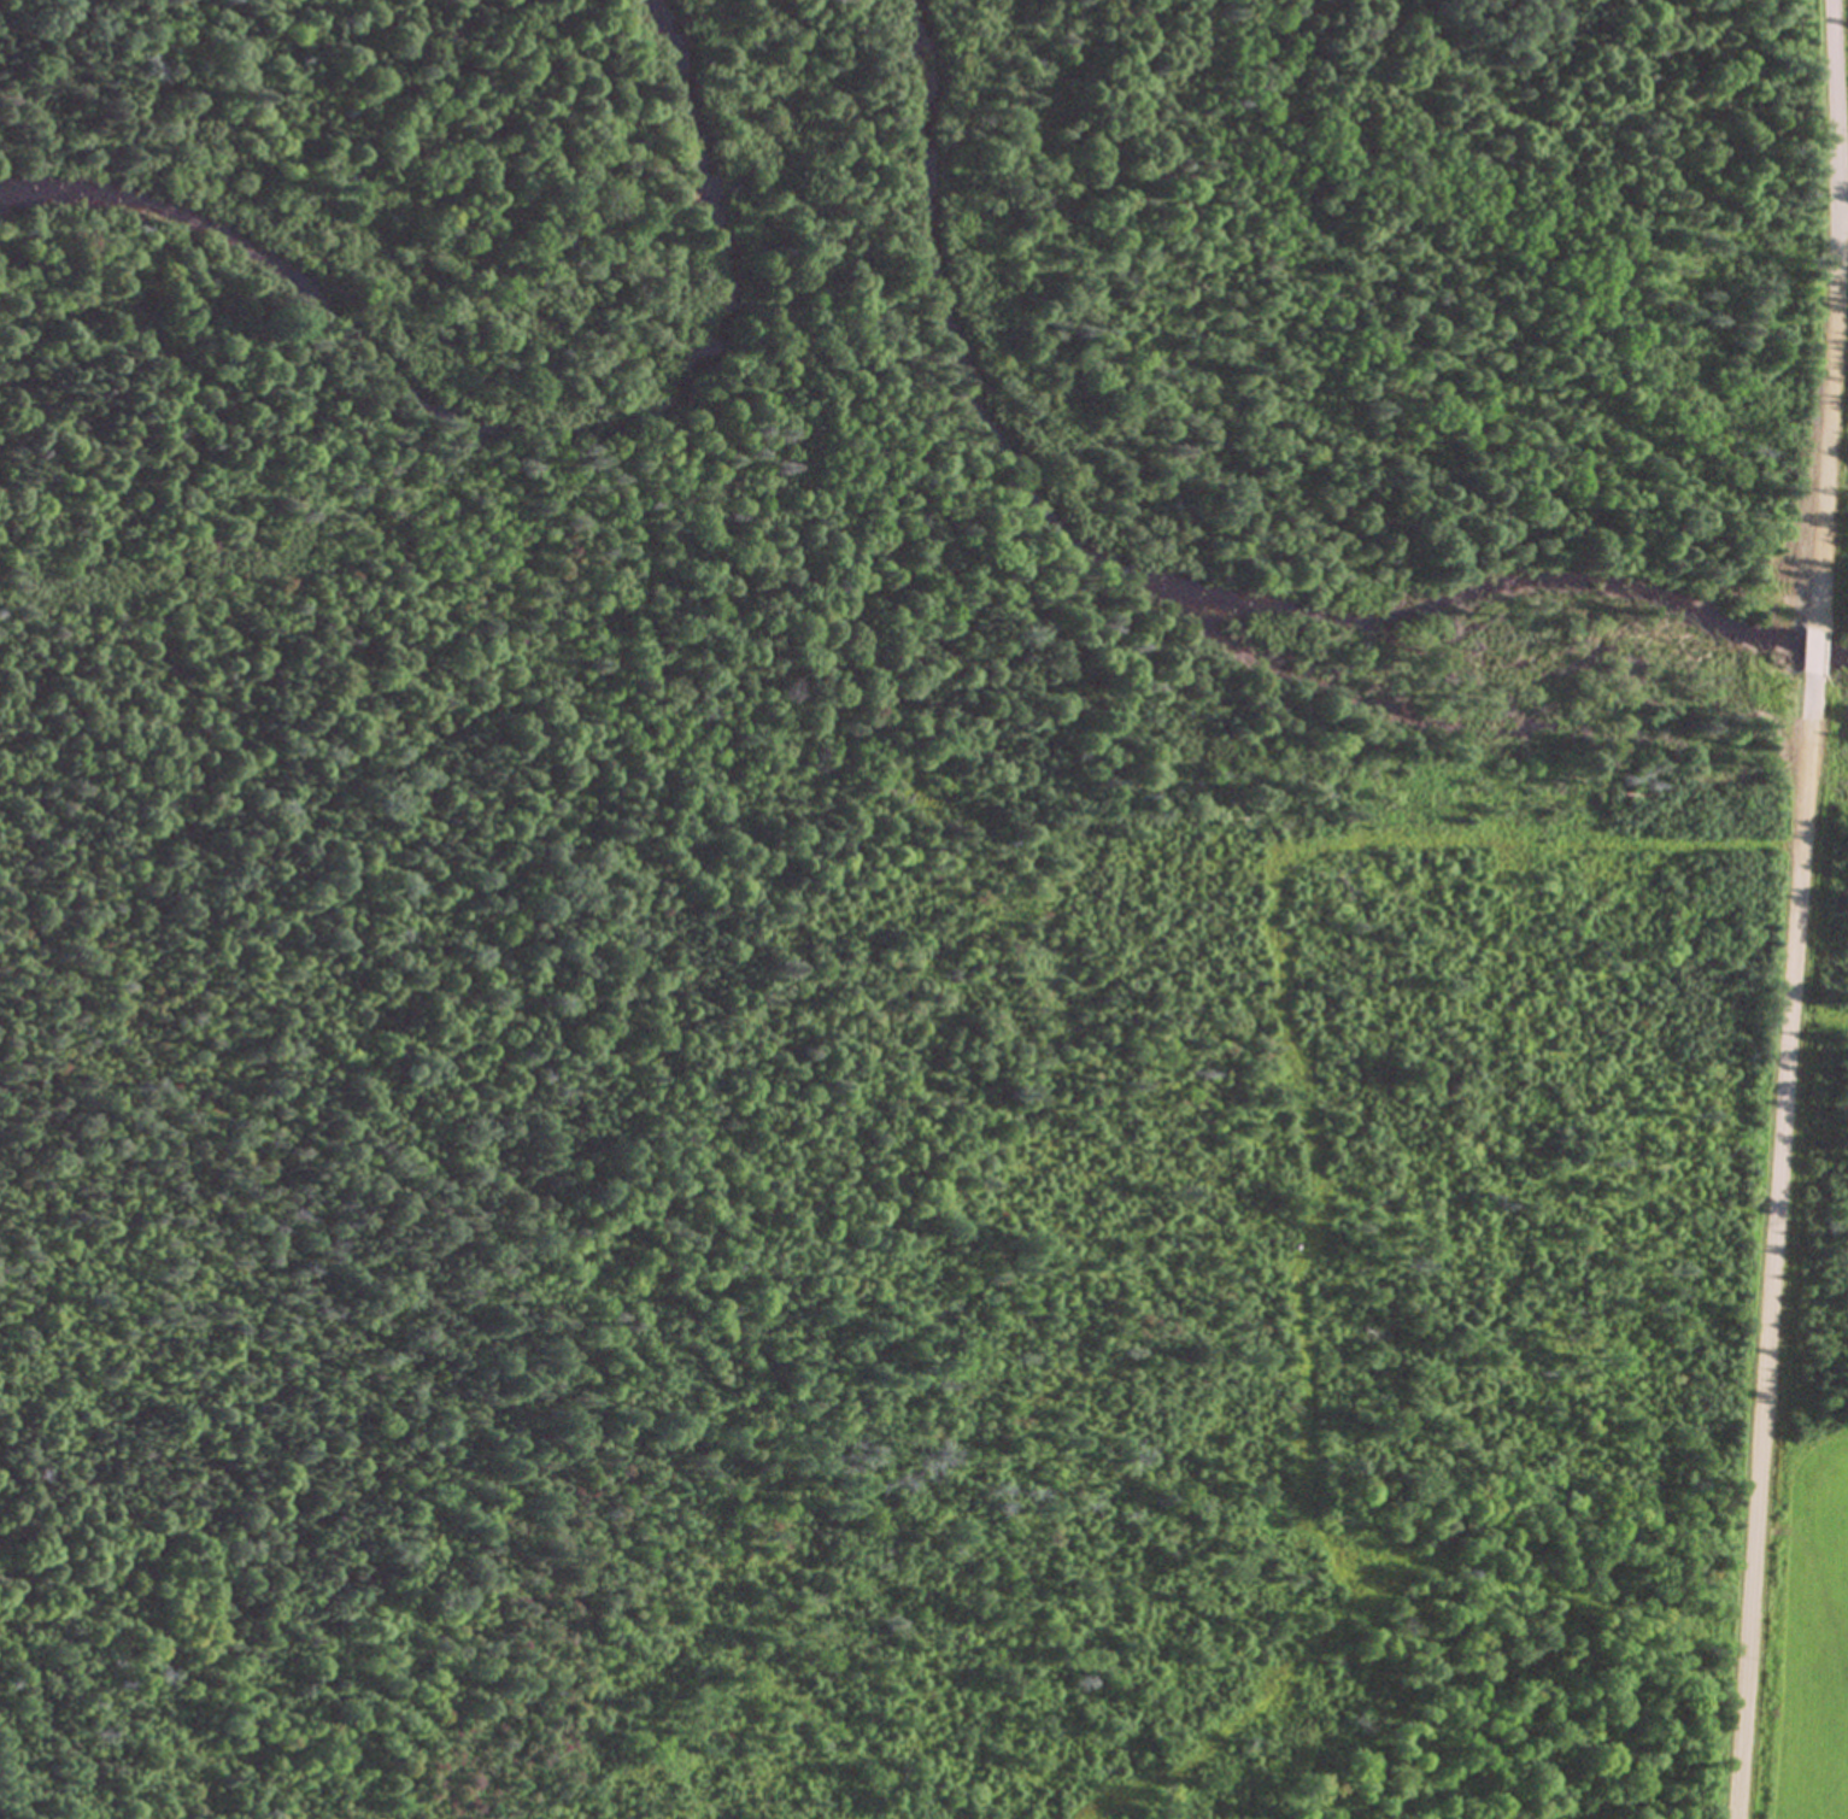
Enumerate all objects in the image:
road: (1843, 231)
road: (1835, 286)
river: (524, 427)
river: (1181, 585)
road: (1817, 599)
road: (1812, 649)
road: (1808, 694)
road: (1771, 1268)

